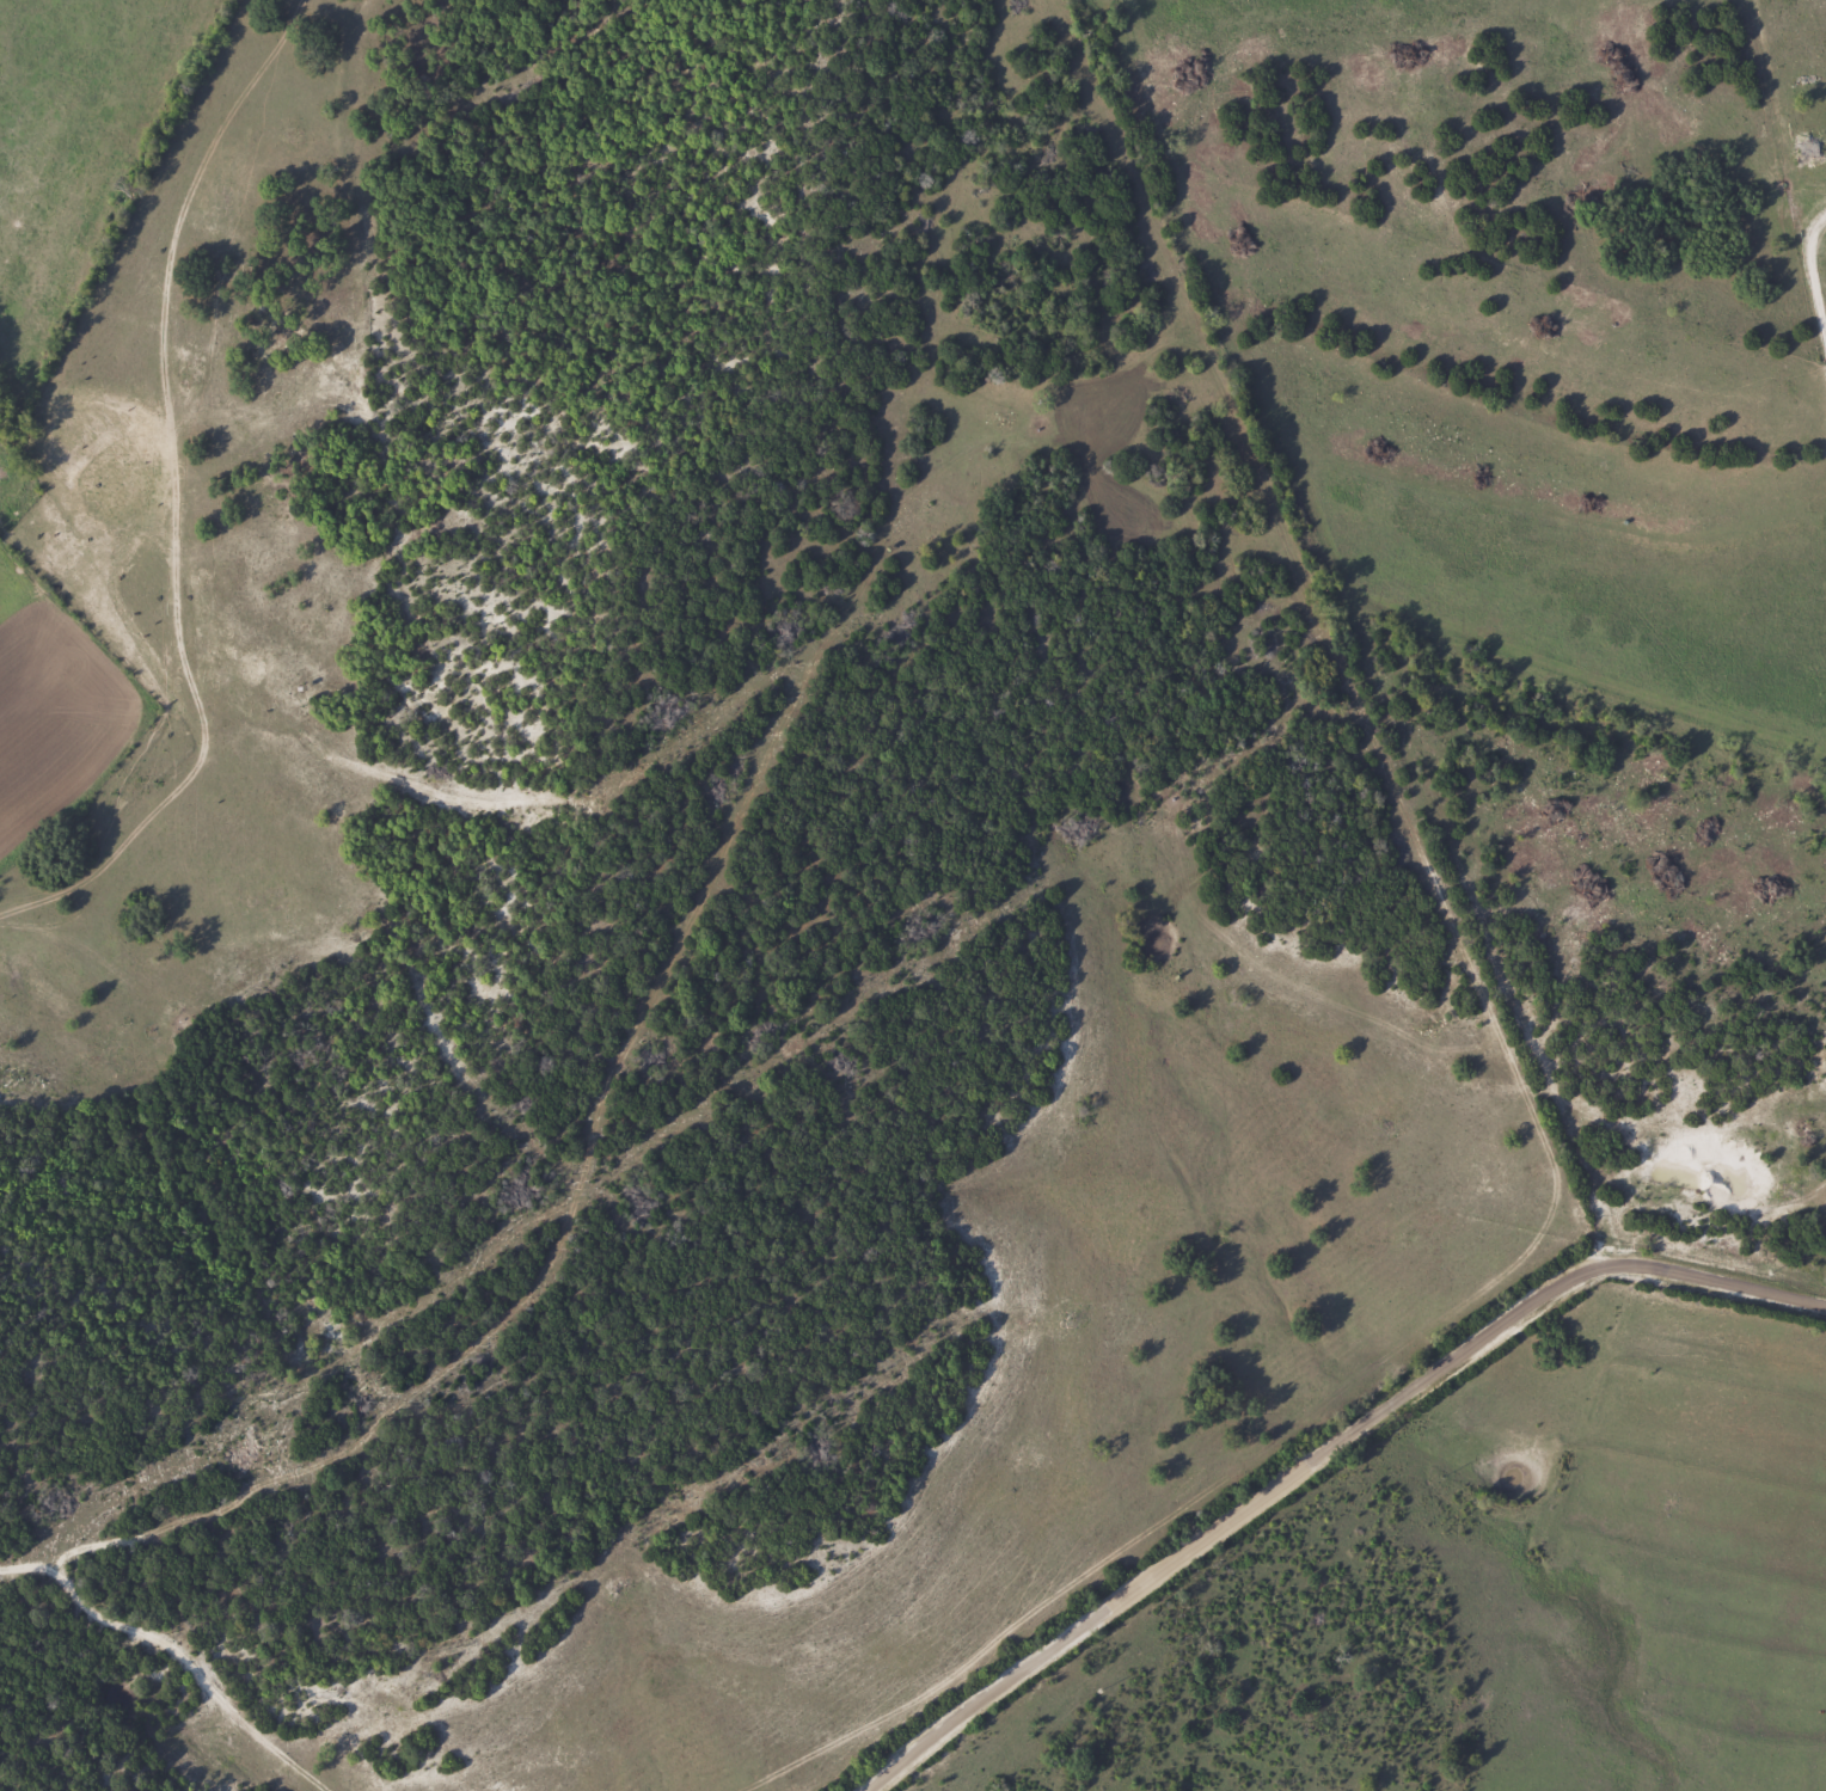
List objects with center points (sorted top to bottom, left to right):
road: (186, 462)
road: (1324, 1455)

